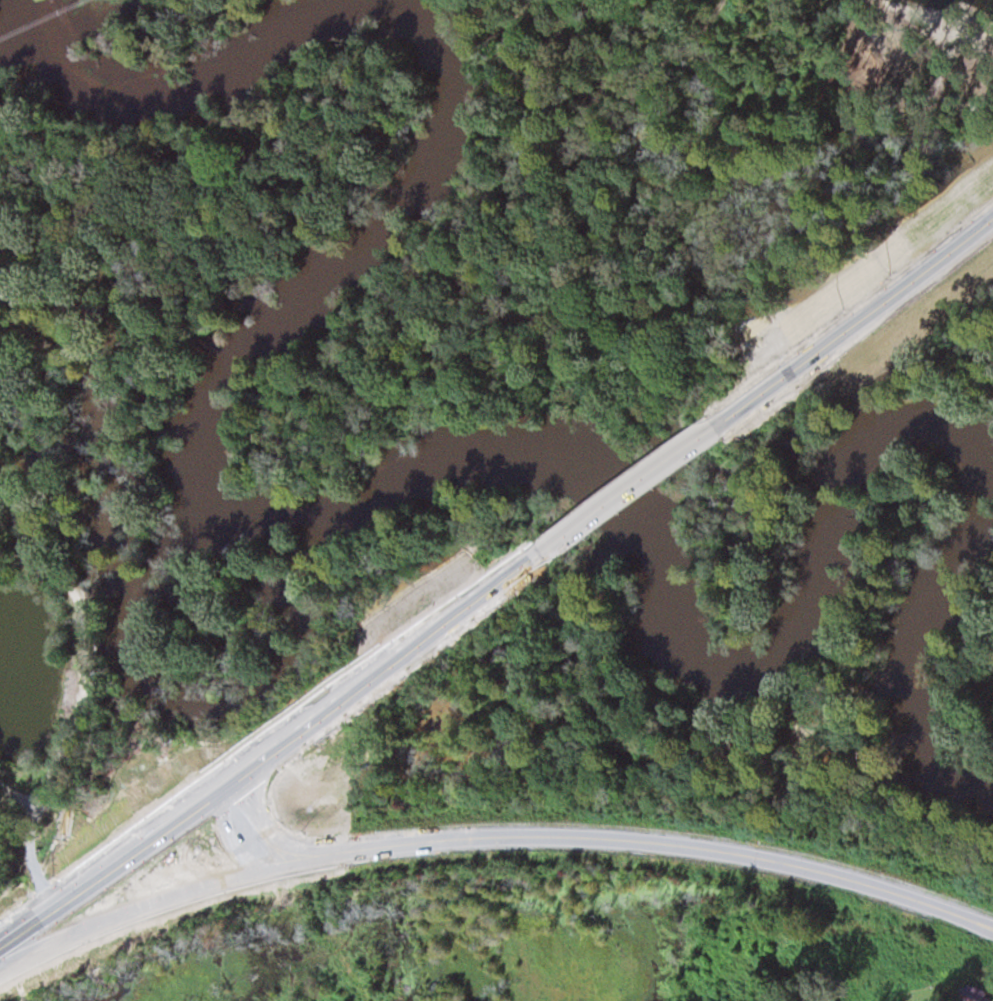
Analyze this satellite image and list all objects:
road: (853, 324)
road: (624, 488)
road: (272, 751)
road: (273, 835)
road: (228, 836)
road: (671, 845)
road: (167, 896)
building: (972, 991)

